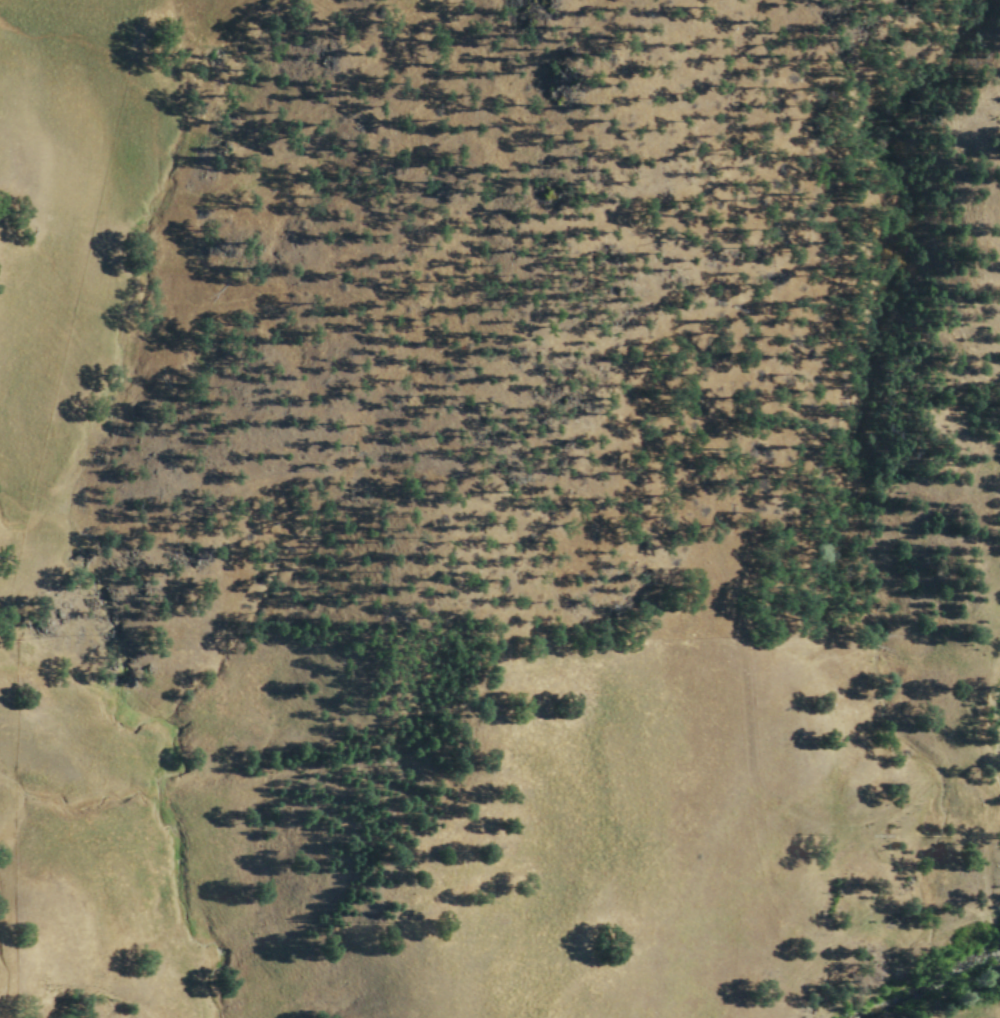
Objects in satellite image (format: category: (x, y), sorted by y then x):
road: (16, 530)

